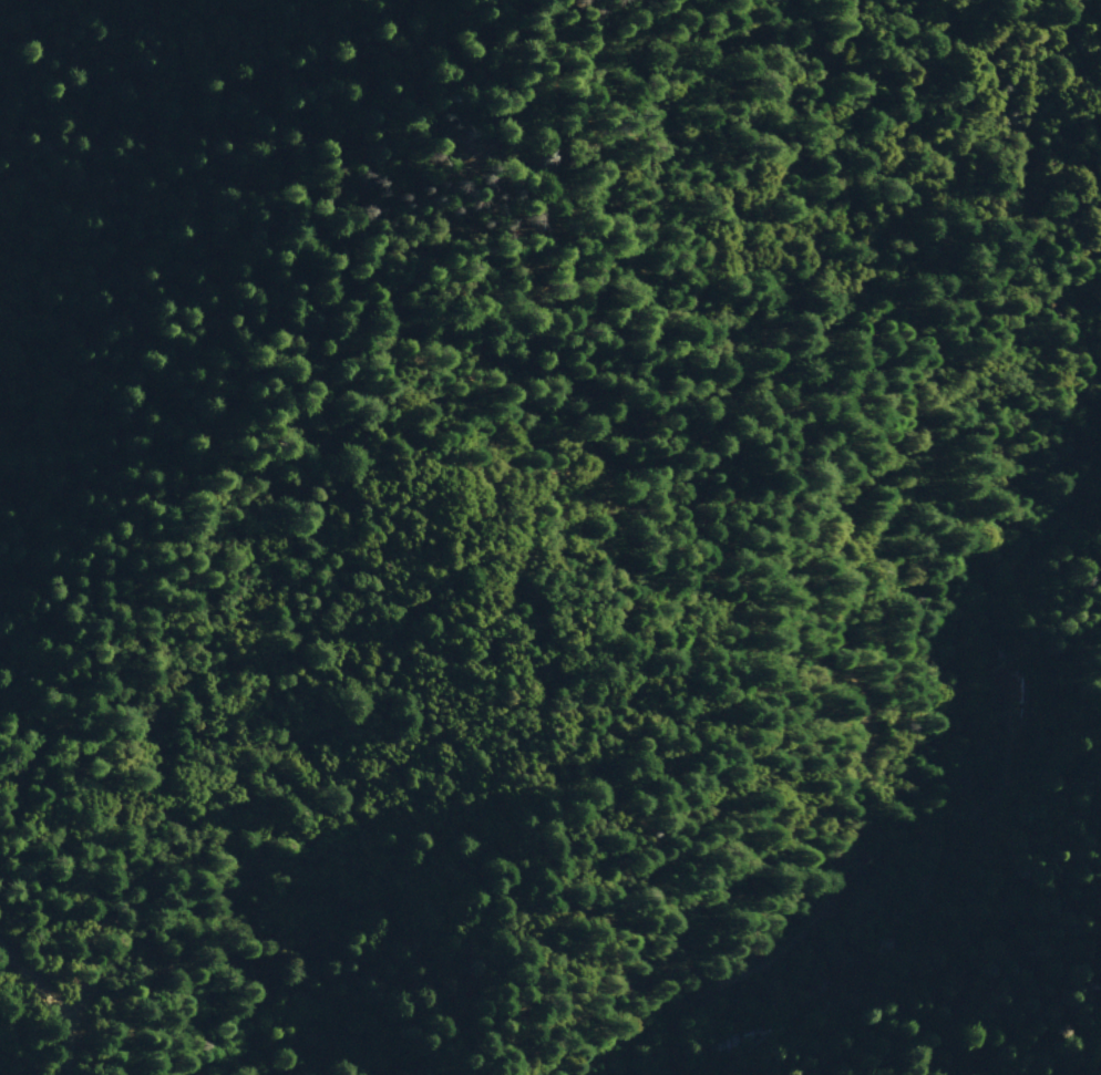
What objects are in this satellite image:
road: (8, 11)
road: (858, 680)
road: (300, 886)
road: (38, 981)
road: (75, 1045)

